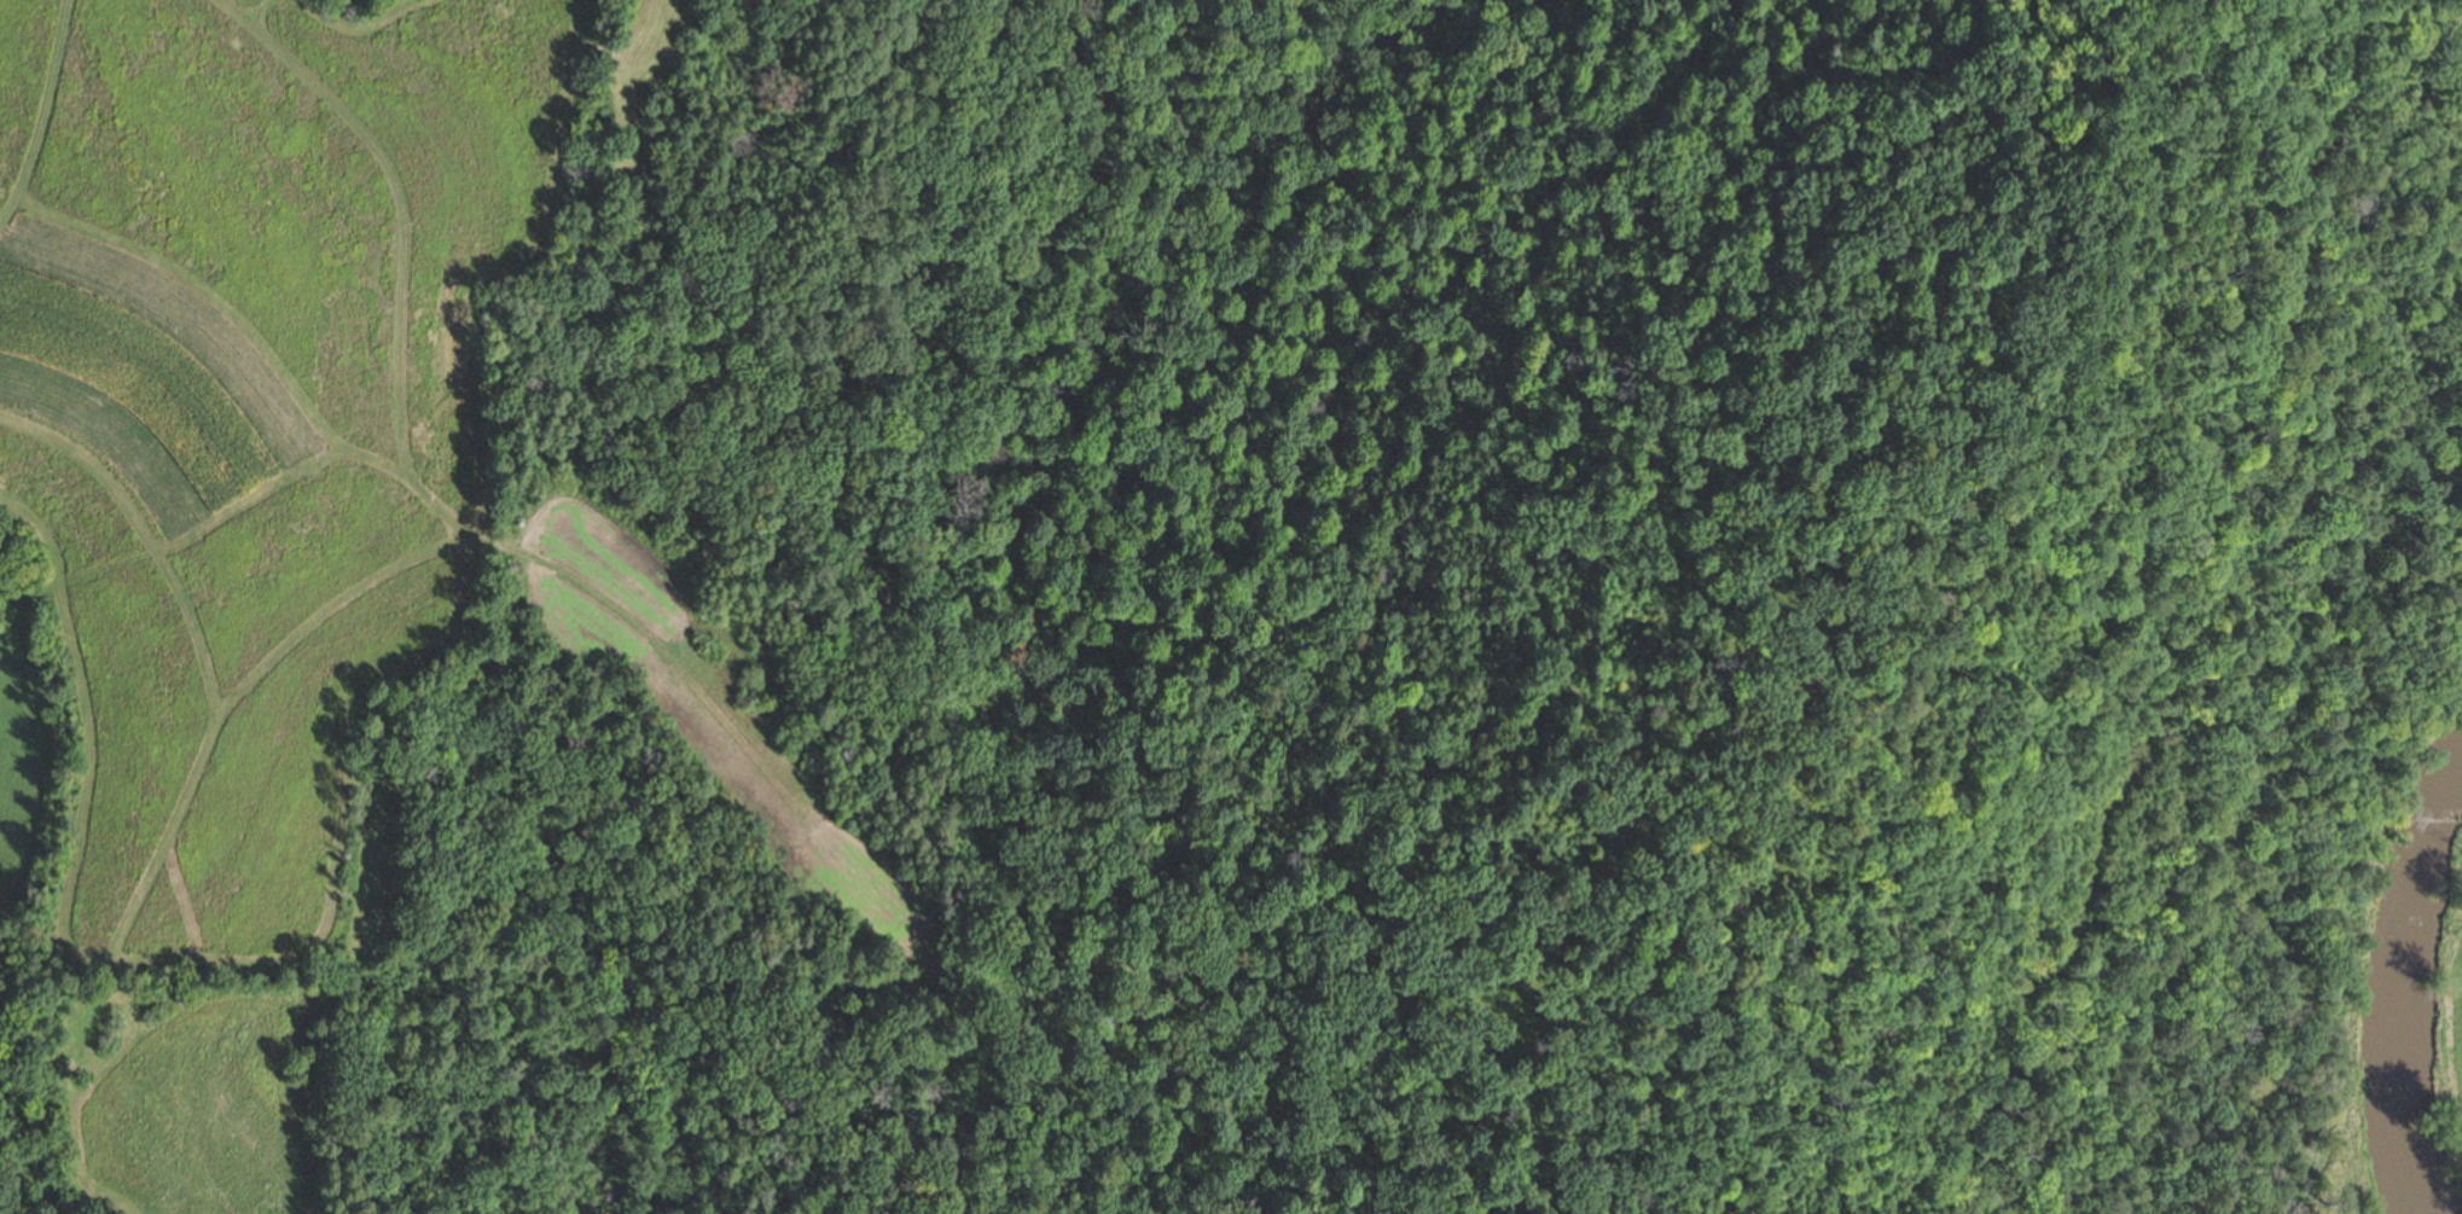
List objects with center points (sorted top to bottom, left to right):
river: (2398, 986)

